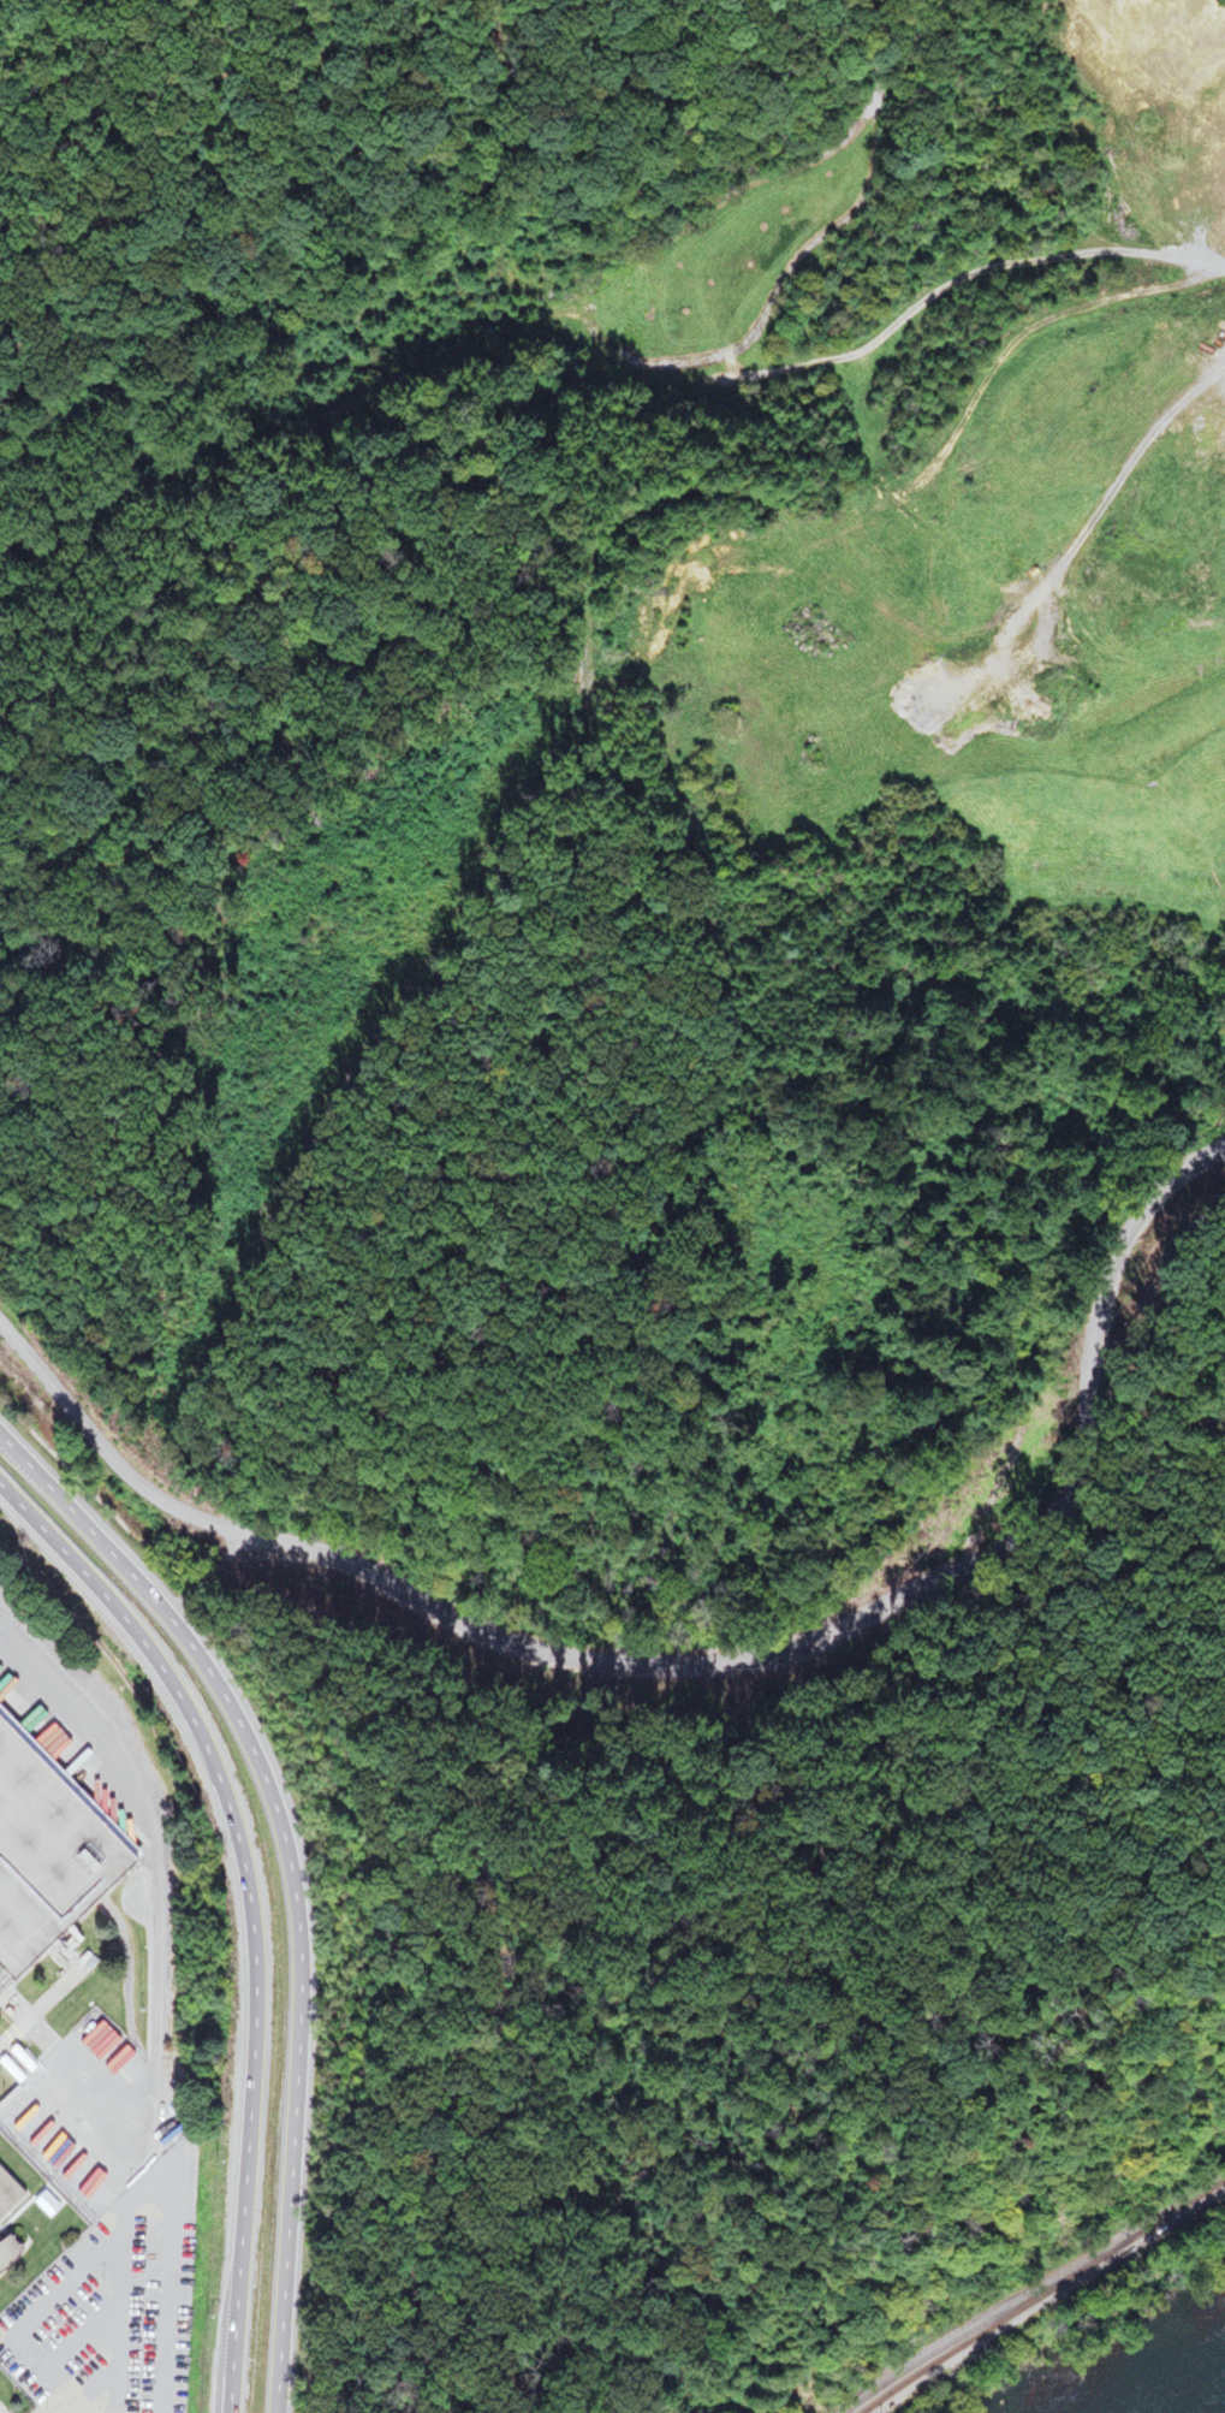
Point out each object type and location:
road: (118, 514)
road: (208, 1575)
road: (704, 1662)
building: (46, 1857)
road: (291, 1874)
road: (250, 1908)
road: (903, 2107)
building: (171, 2133)
building: (7, 2194)
building: (5, 2248)
railway: (1012, 2282)
river: (1188, 2390)

